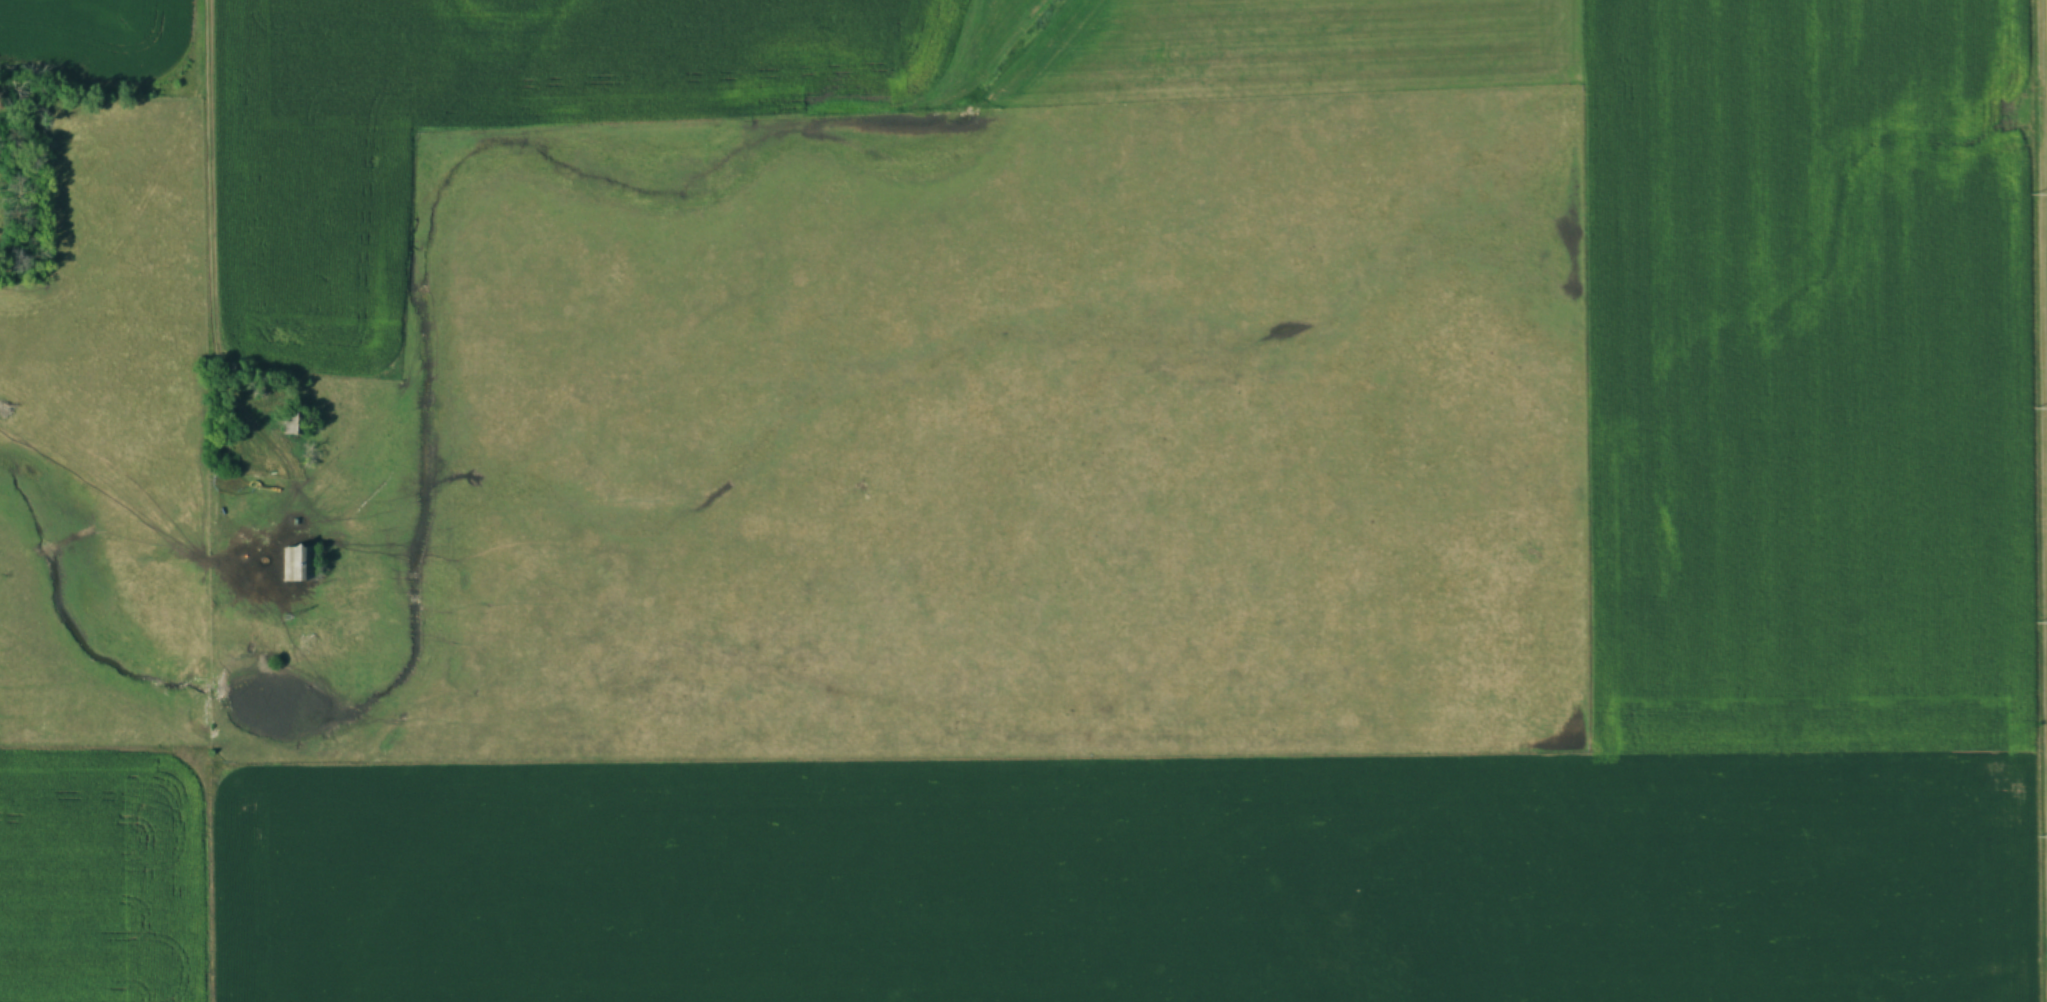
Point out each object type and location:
road: (211, 209)
building: (296, 424)
building: (295, 564)

